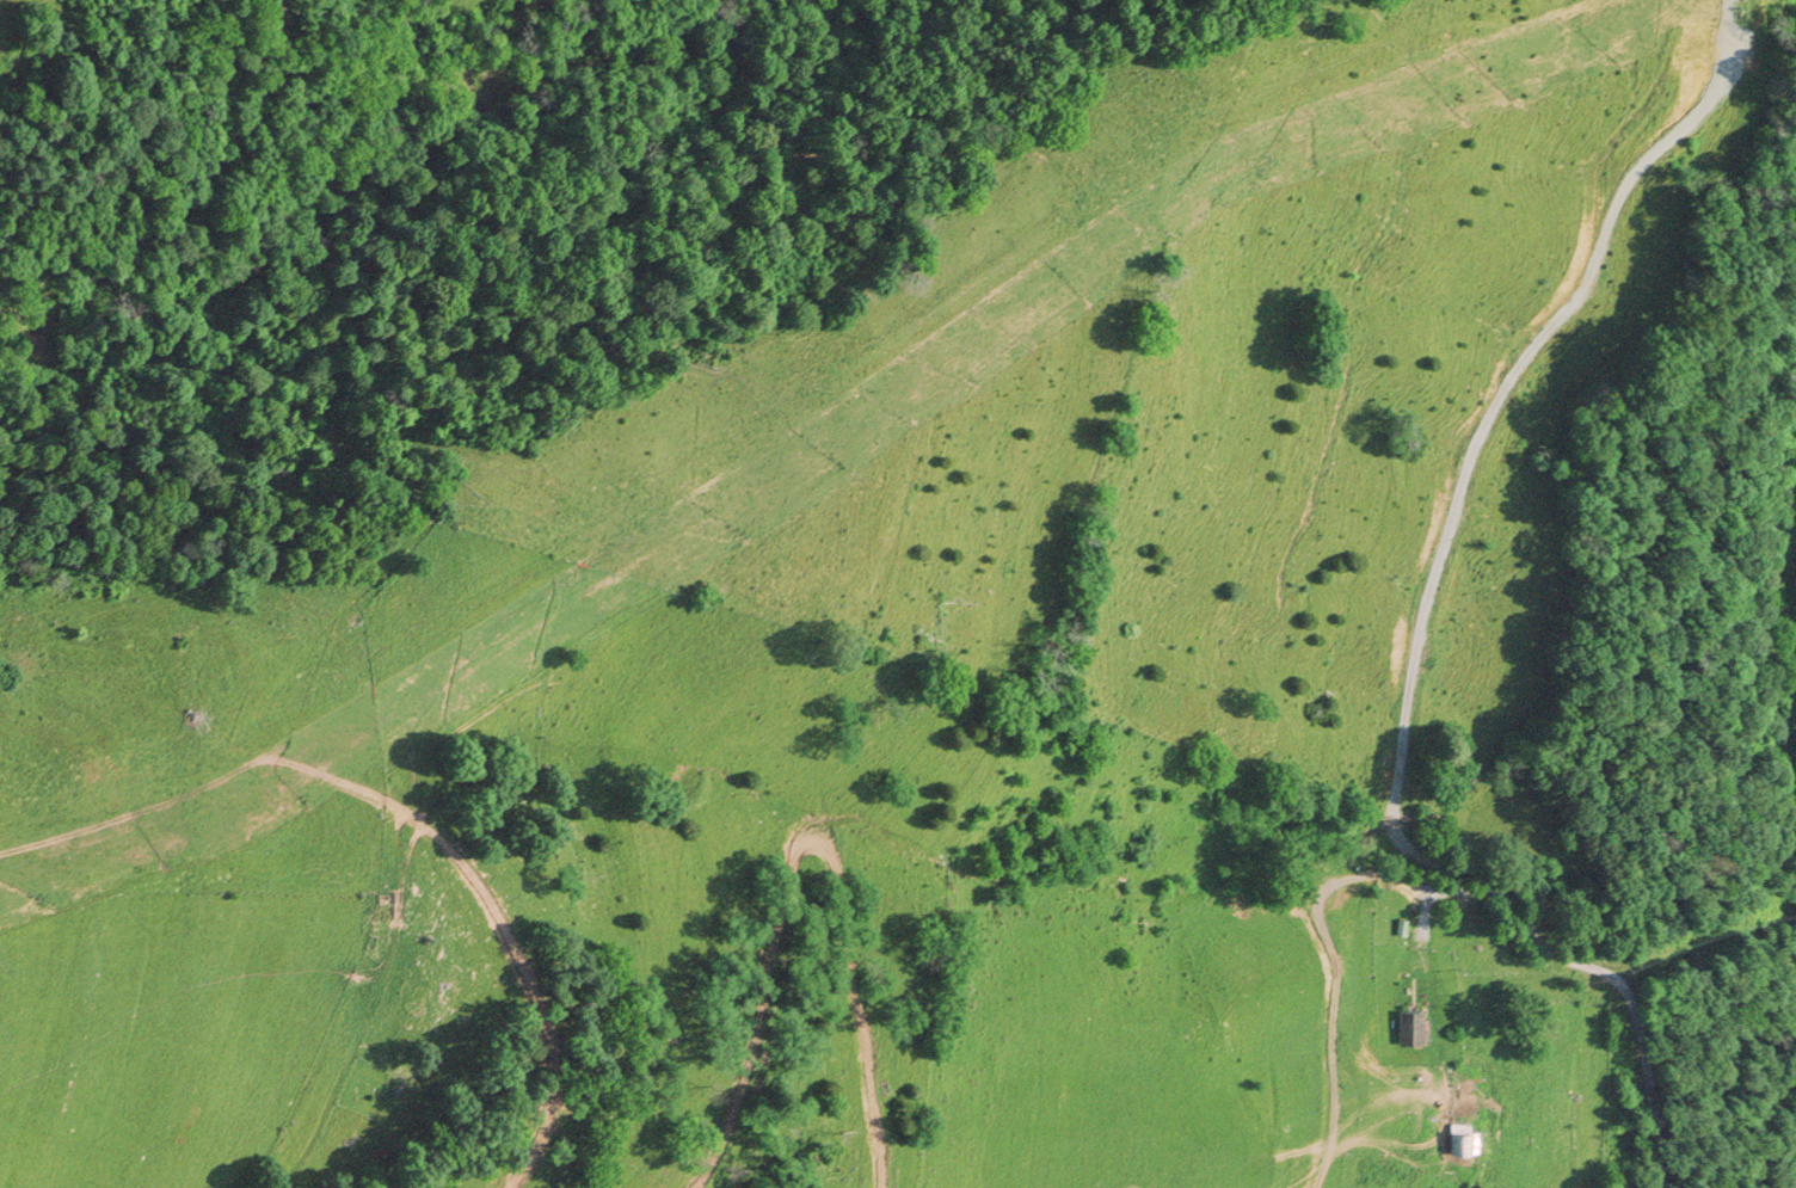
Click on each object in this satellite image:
road: (1589, 966)
building: (1410, 1028)
building: (1460, 1140)

